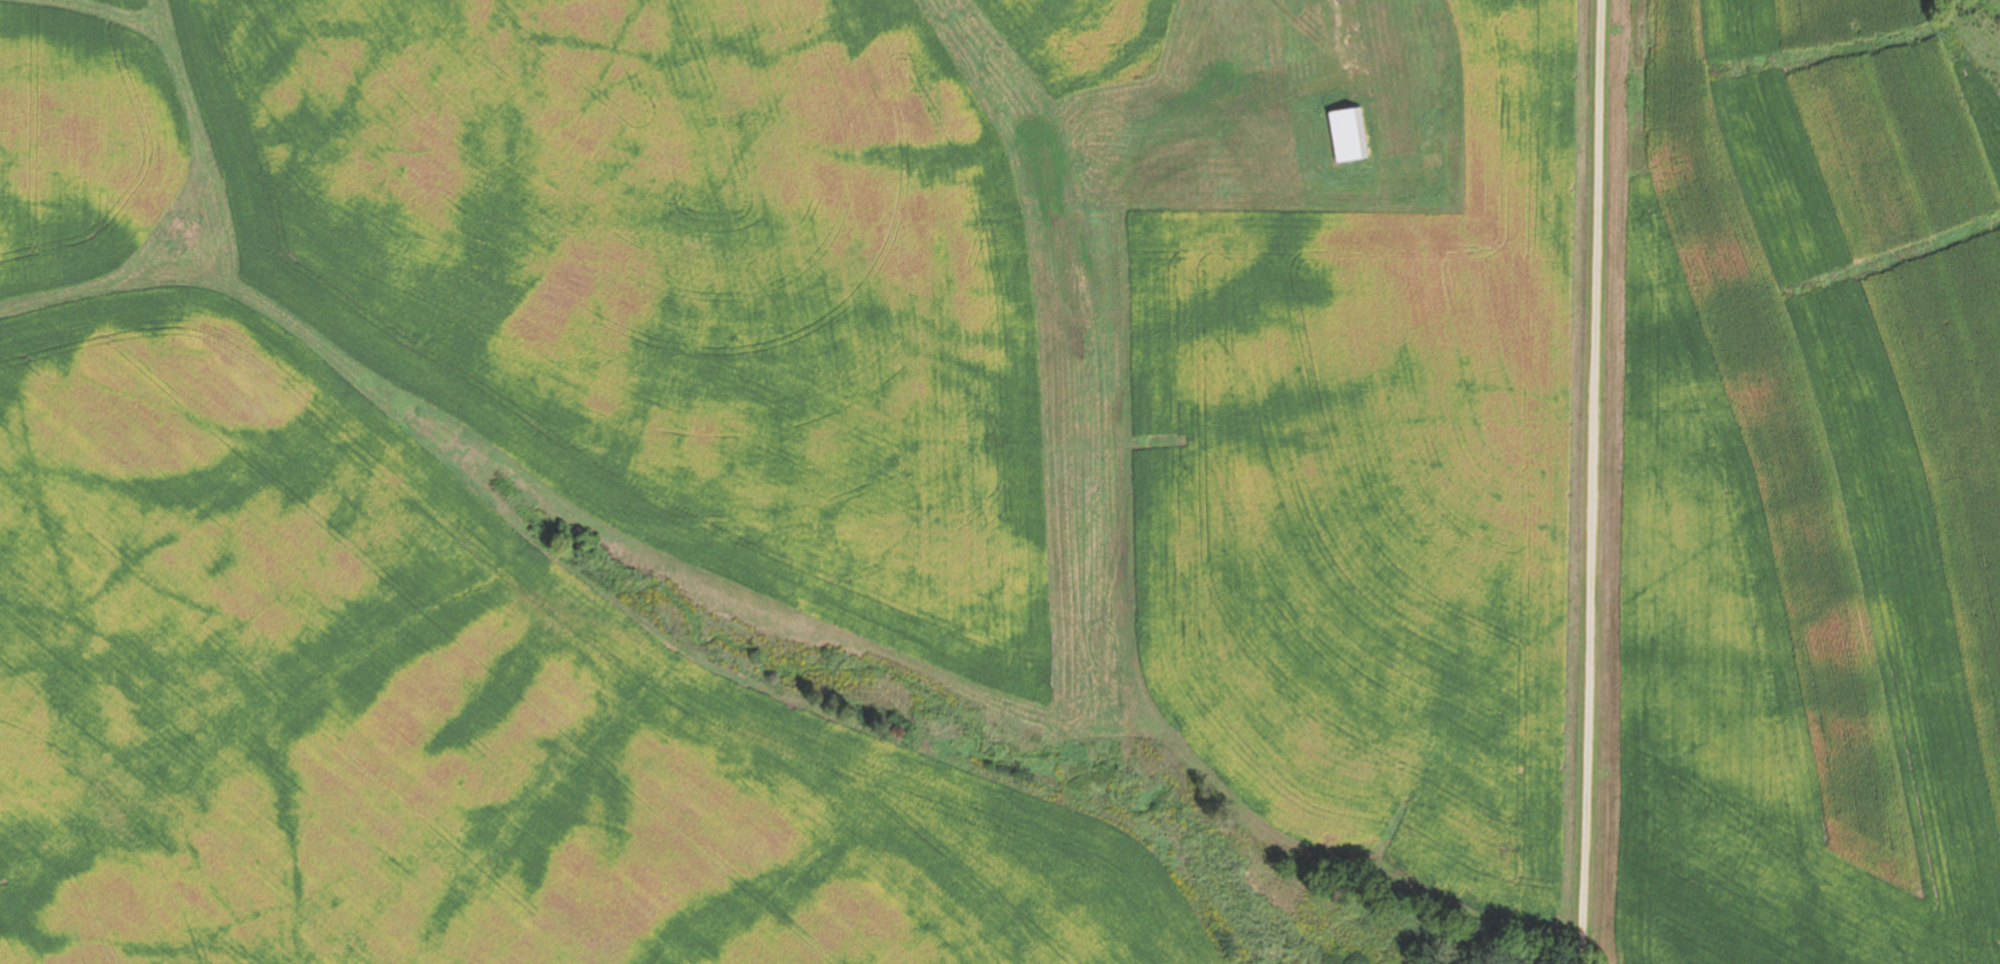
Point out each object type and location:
building: (1367, 19)
building: (1421, 40)
building: (1346, 136)
road: (1594, 482)

